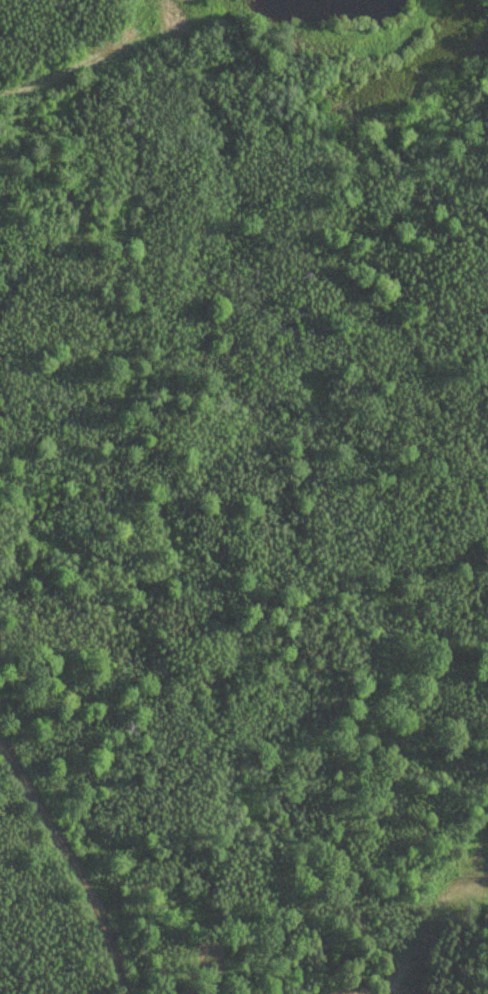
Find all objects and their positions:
road: (72, 864)
road: (427, 928)

